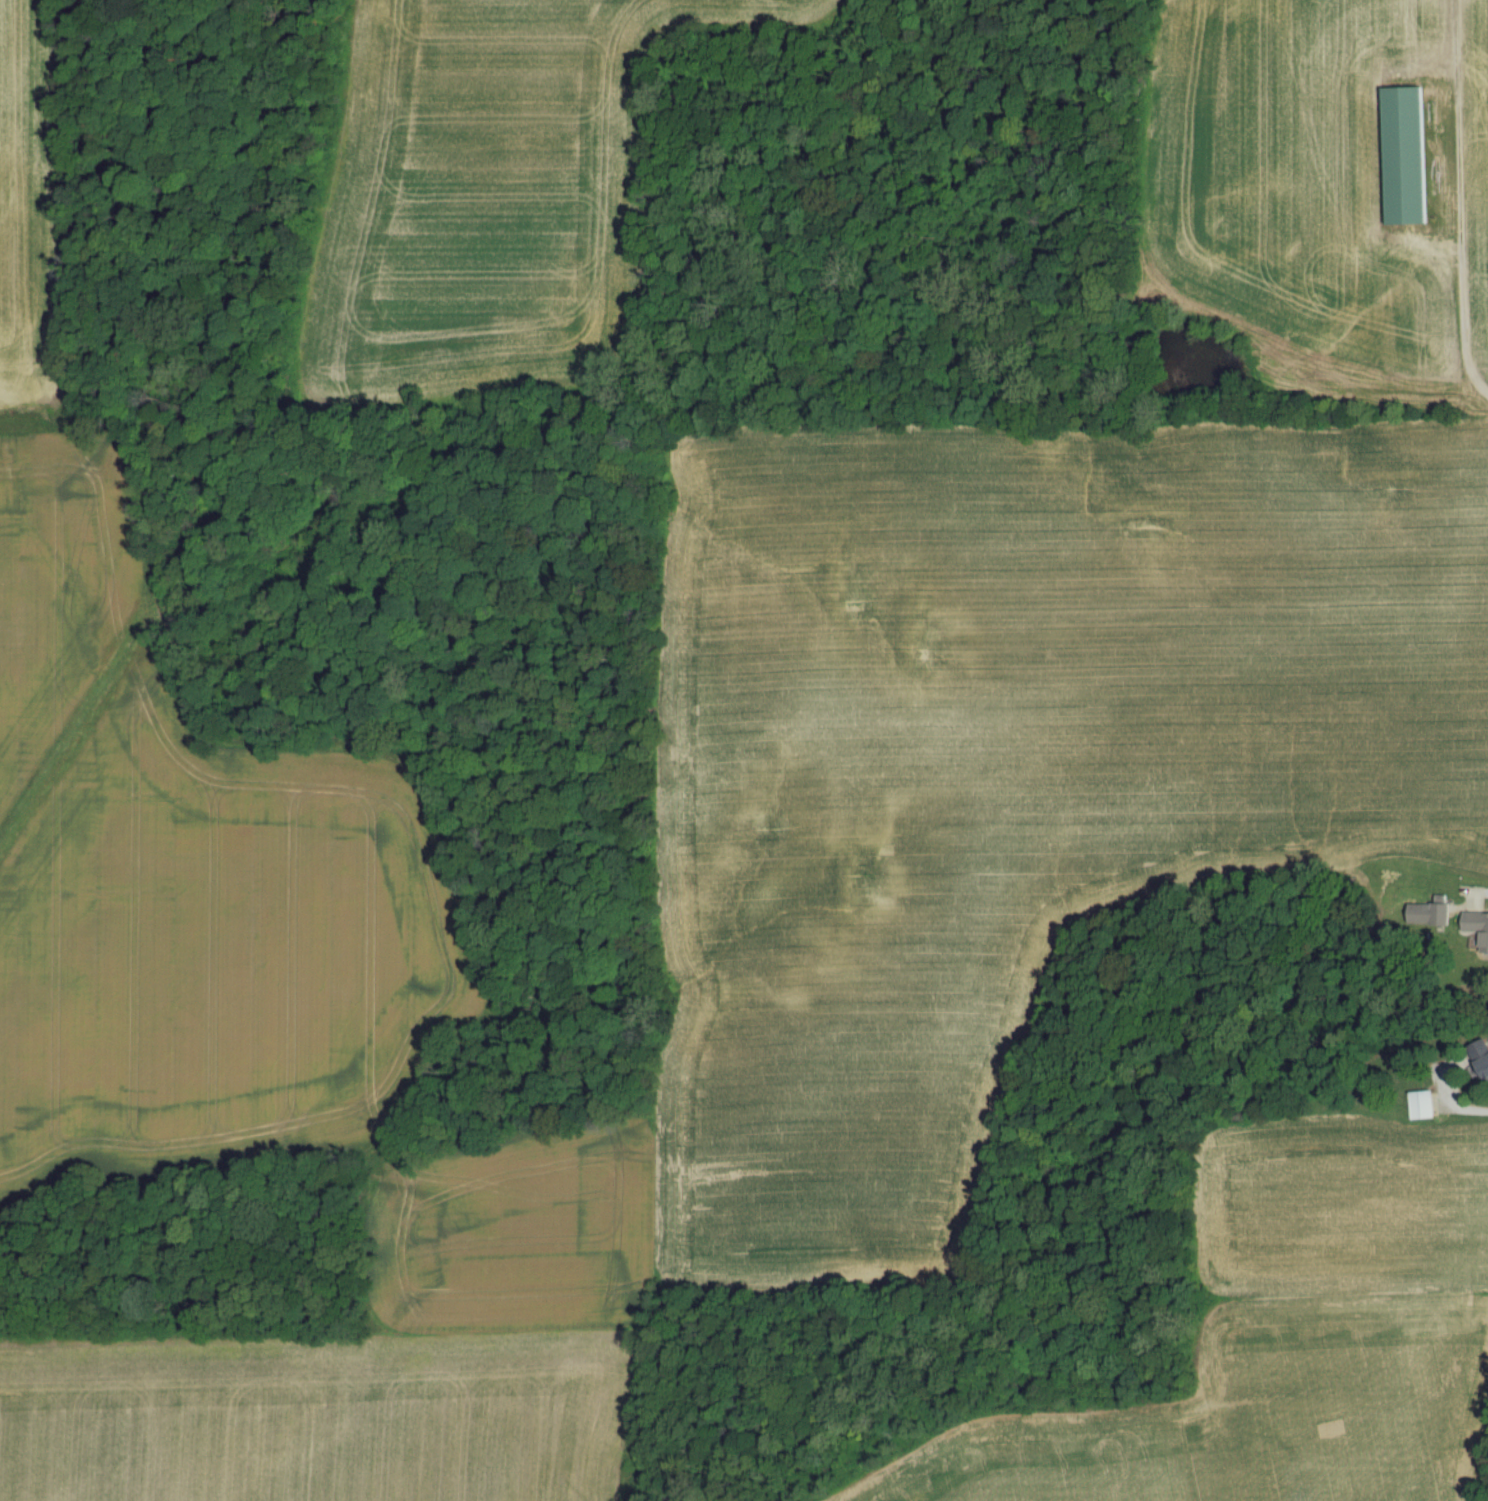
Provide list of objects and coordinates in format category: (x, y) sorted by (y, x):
building: (1408, 156)
road: (1455, 201)
road: (1471, 894)
building: (1476, 934)
building: (1485, 1064)
building: (1424, 1106)
road: (1454, 1107)

